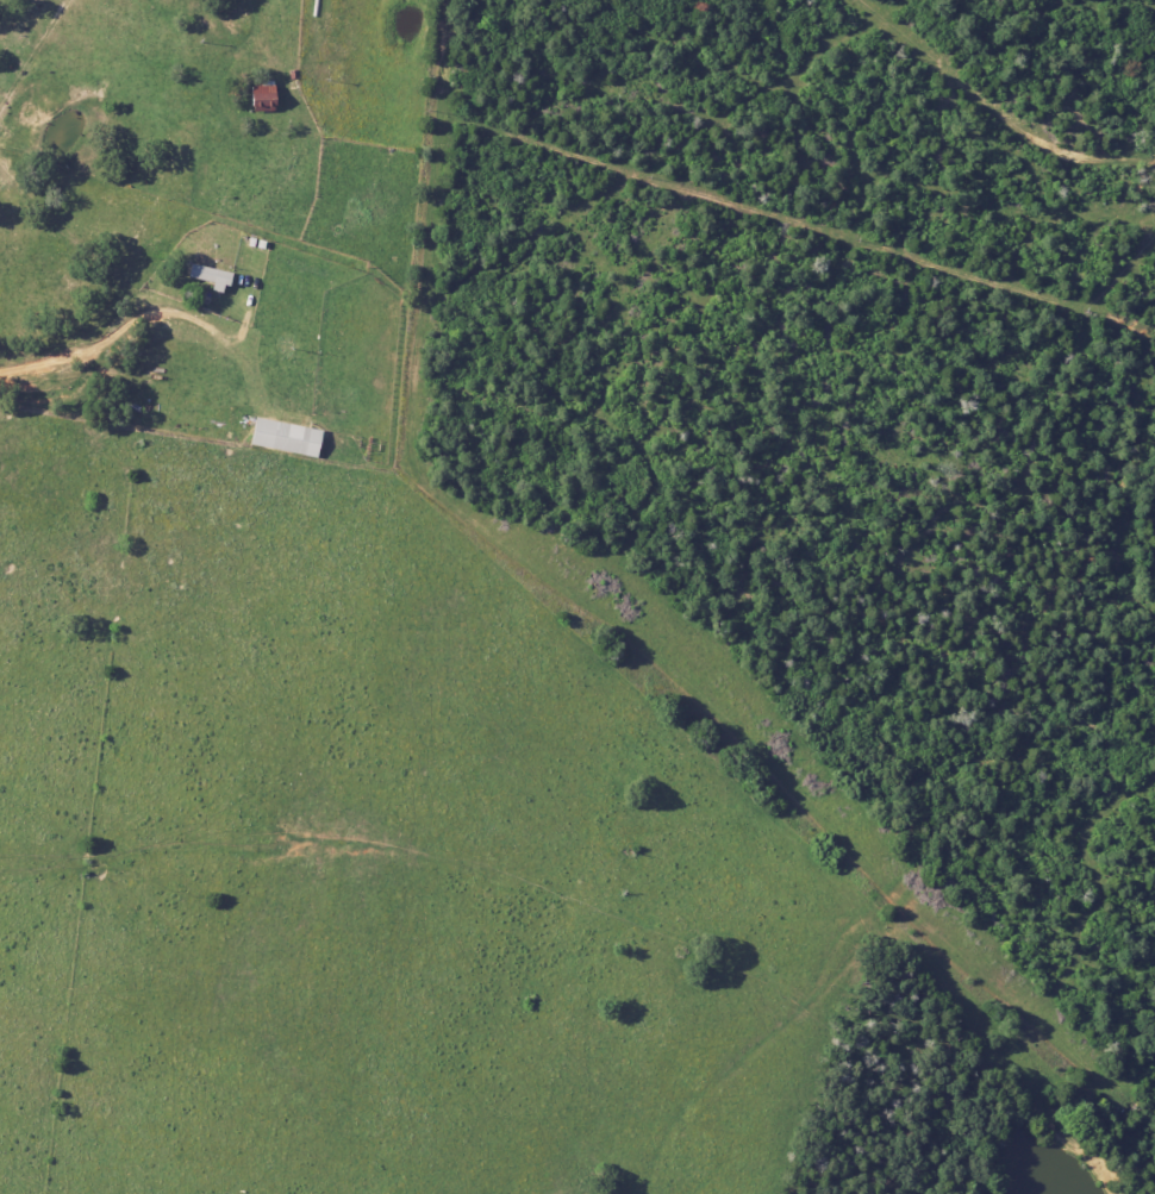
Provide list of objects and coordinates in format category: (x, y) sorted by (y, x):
building: (260, 96)
building: (207, 276)
road: (98, 339)
building: (283, 437)

